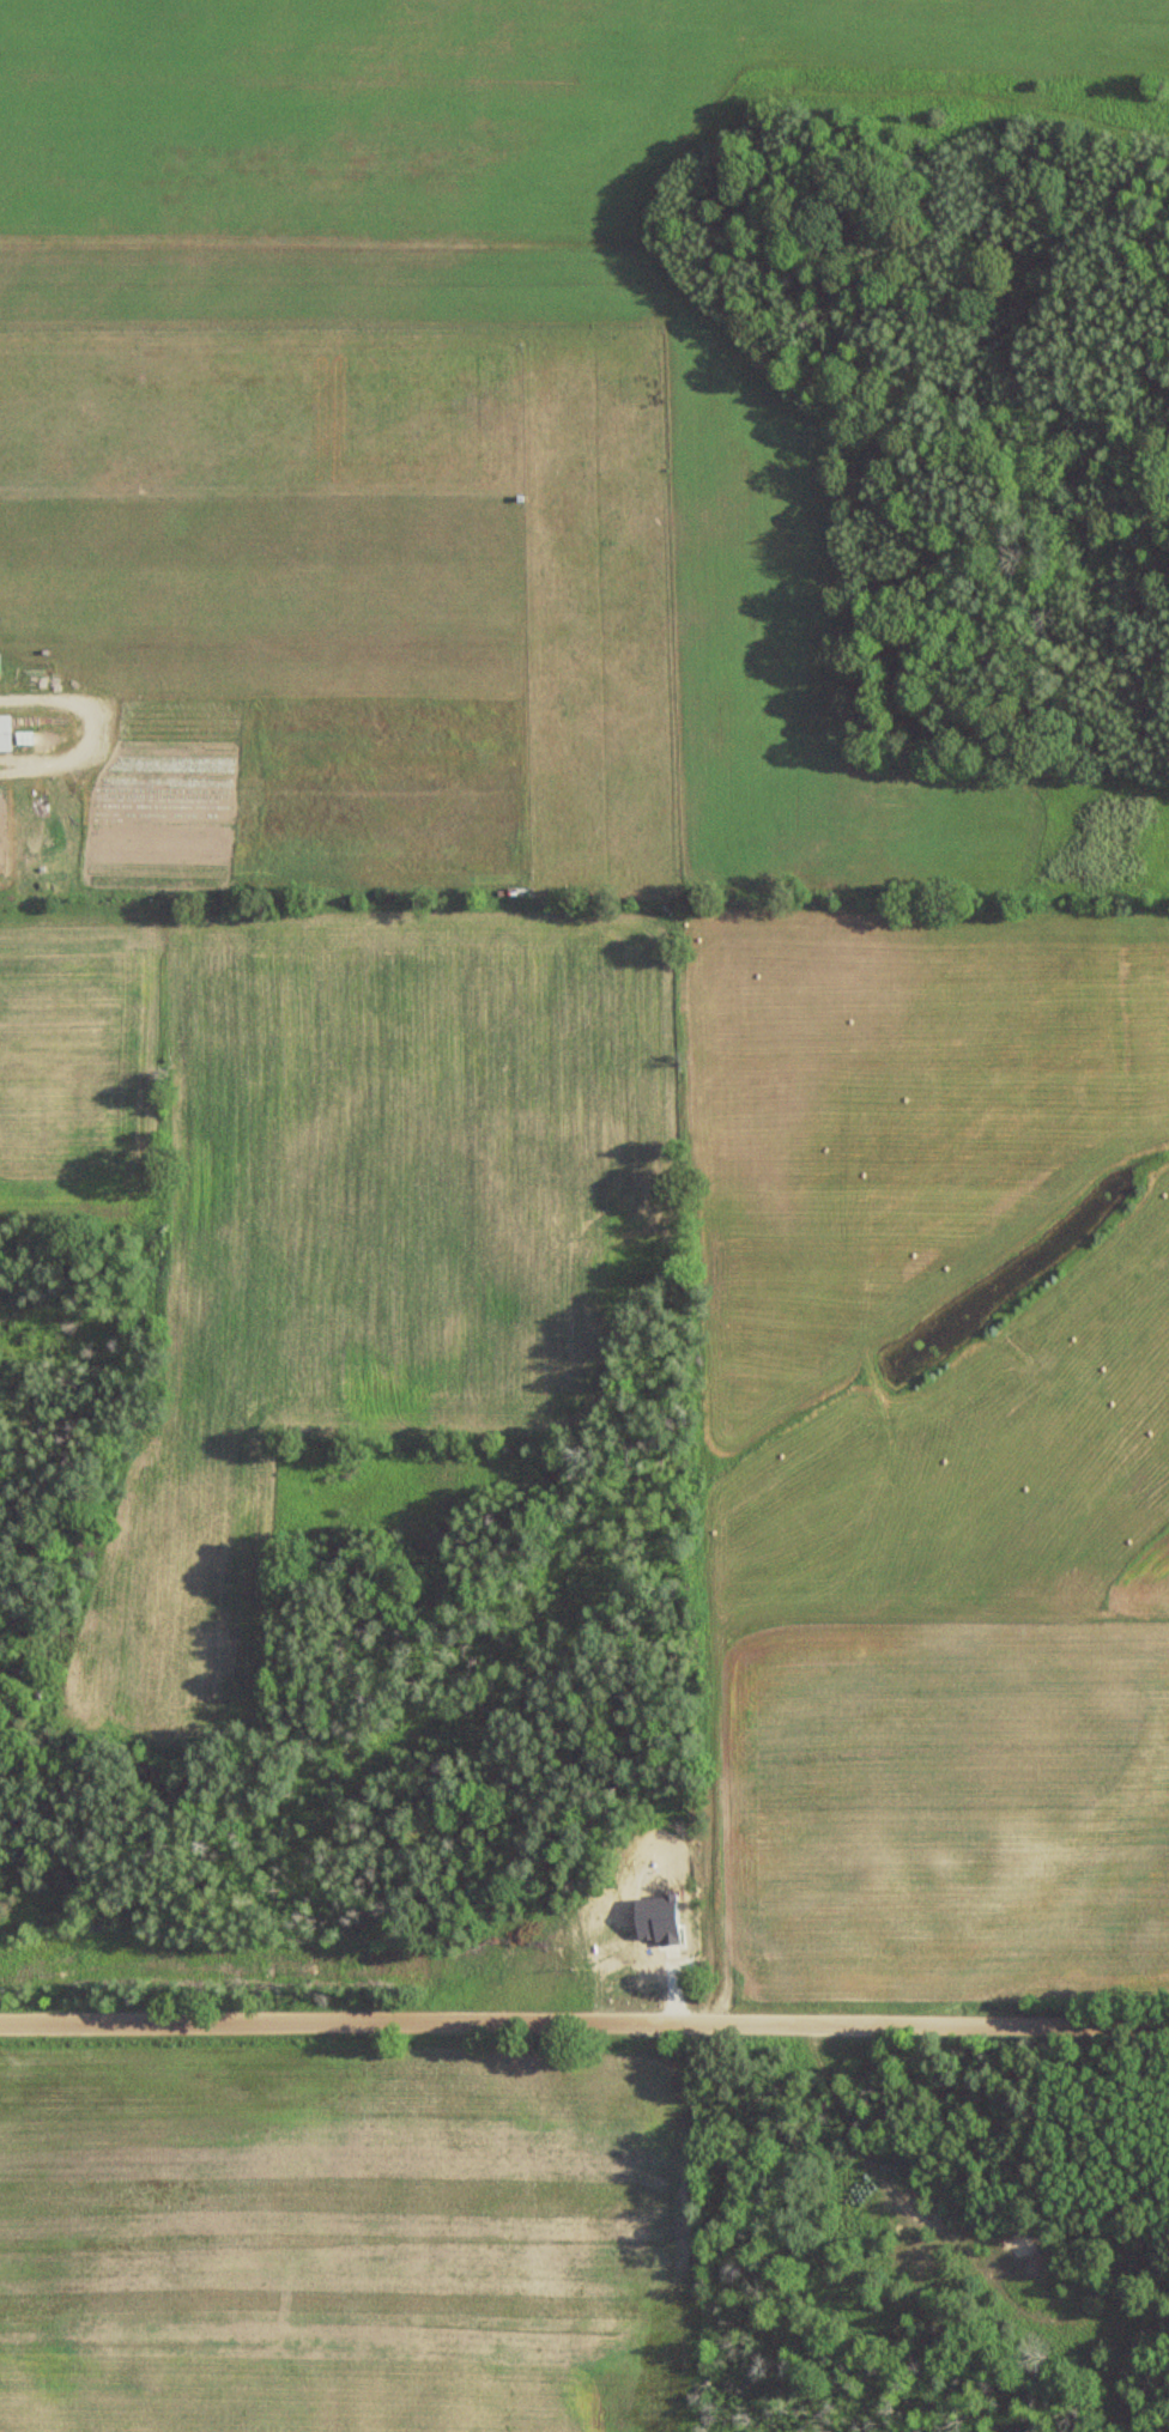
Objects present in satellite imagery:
road: (584, 2018)

